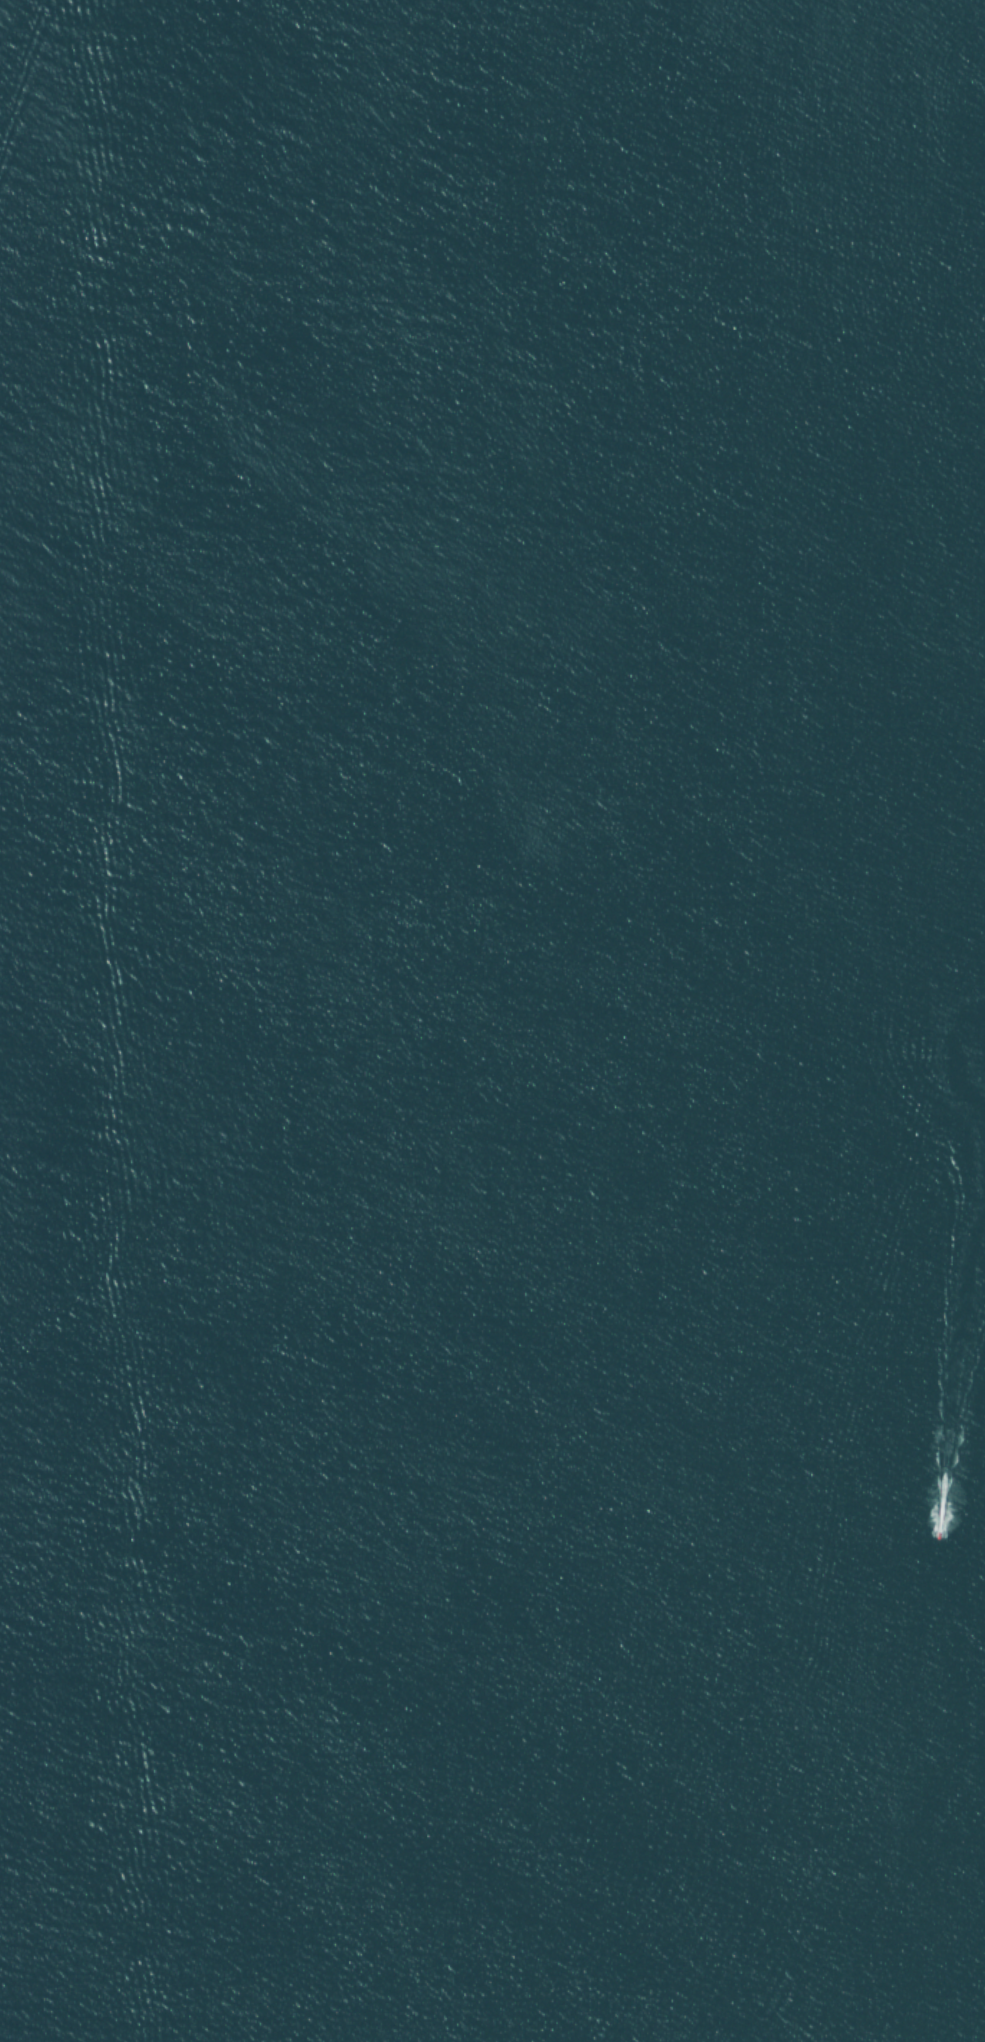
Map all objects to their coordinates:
river: (364, 1015)

